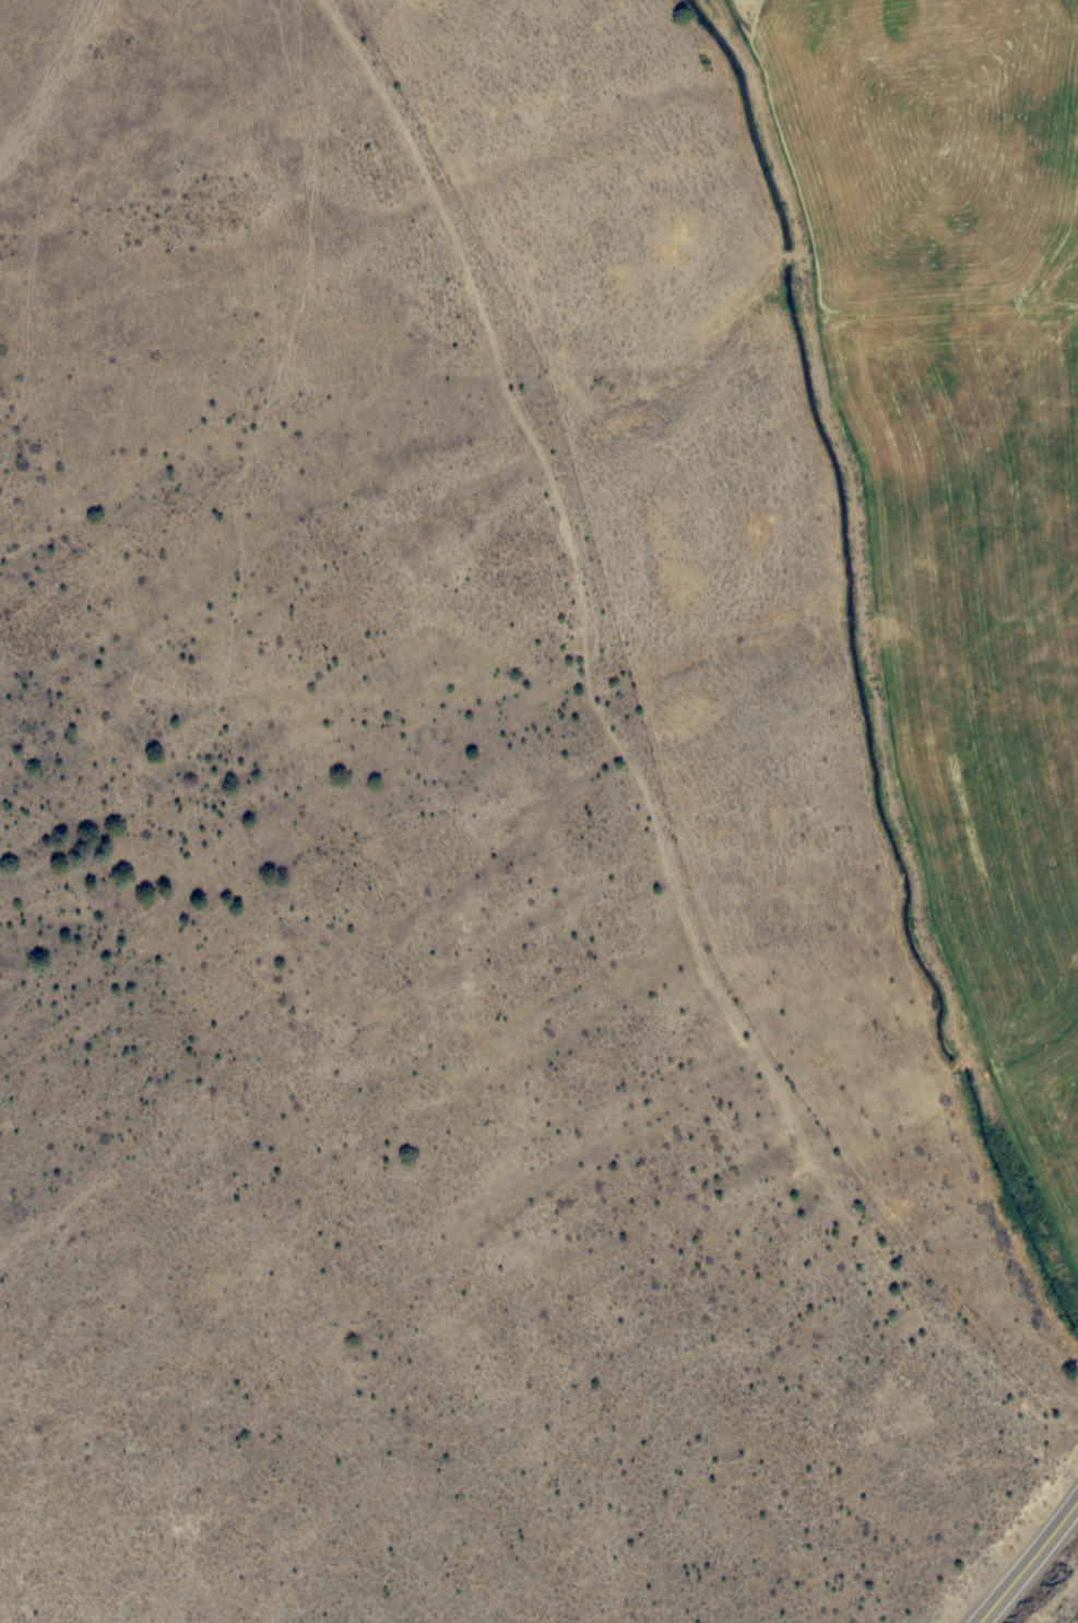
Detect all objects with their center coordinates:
road: (1030, 1561)

